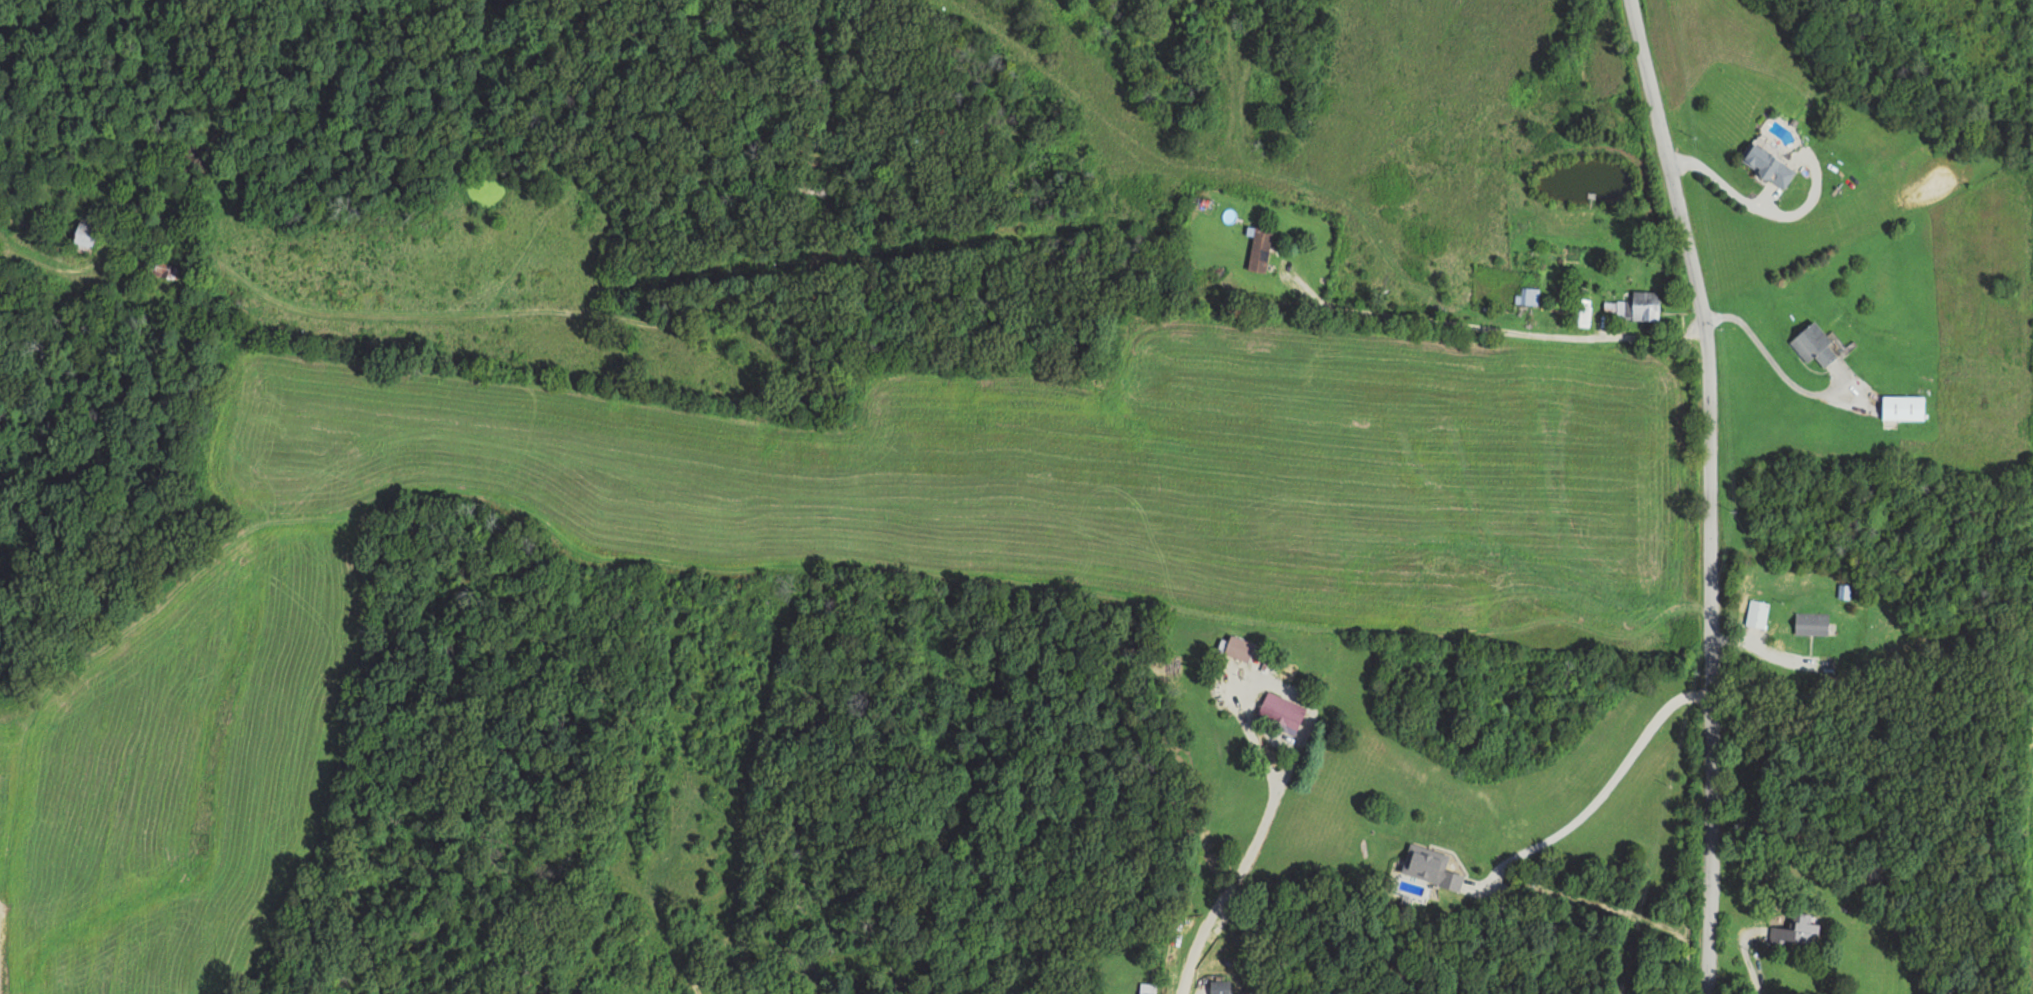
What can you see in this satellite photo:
building: (1766, 165)
building: (1200, 201)
building: (84, 233)
building: (1259, 249)
building: (162, 269)
building: (1527, 295)
building: (1643, 305)
building: (1579, 311)
road: (1398, 316)
building: (1813, 345)
building: (1902, 407)
road: (1707, 492)
building: (1756, 614)
building: (1809, 623)
building: (1238, 648)
building: (1279, 712)
building: (1428, 868)
road: (1230, 887)
building: (1794, 932)
building: (1218, 987)
building: (1146, 988)

